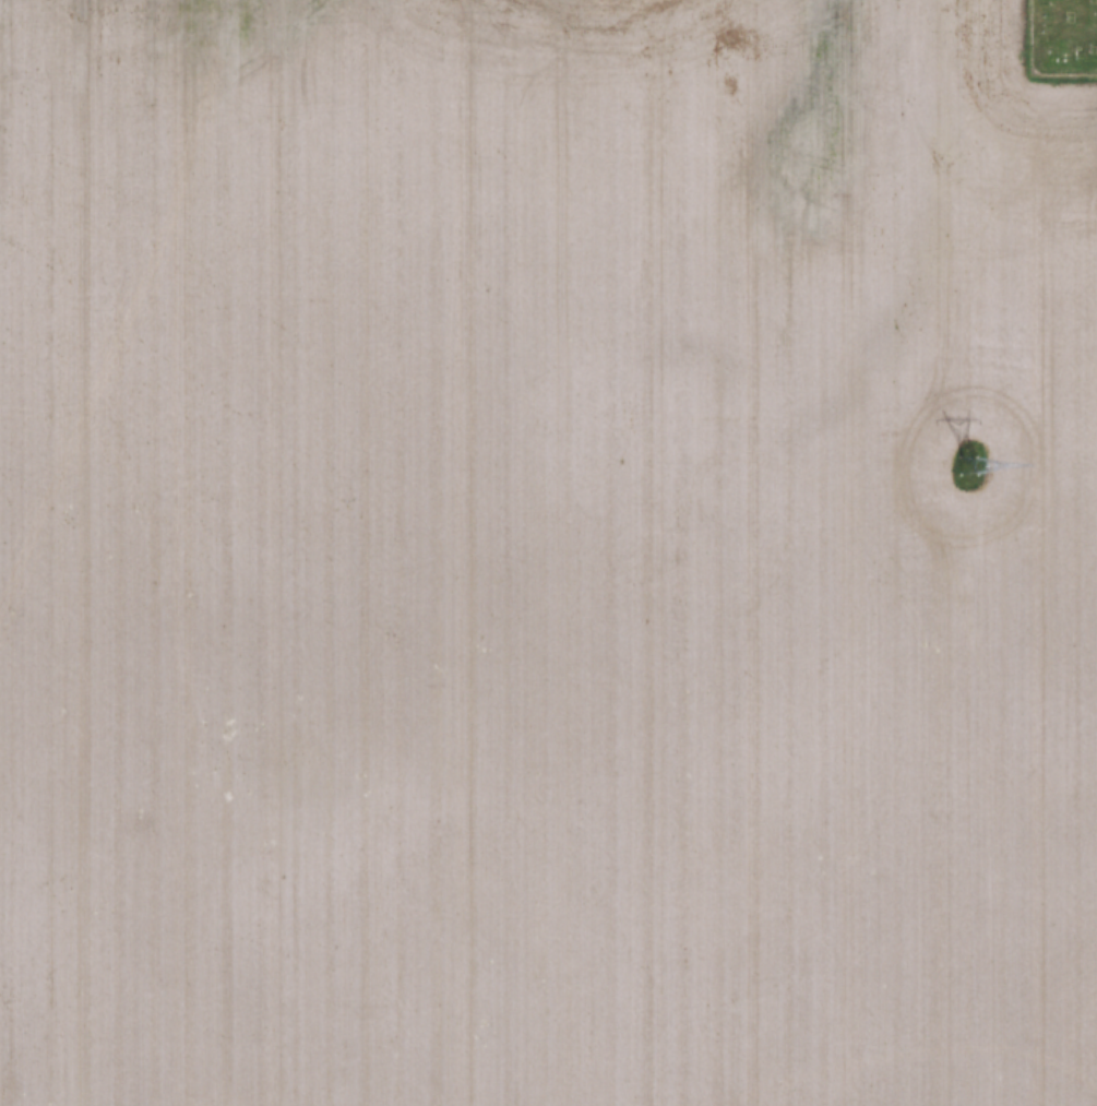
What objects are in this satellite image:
power tower: (968, 463)

